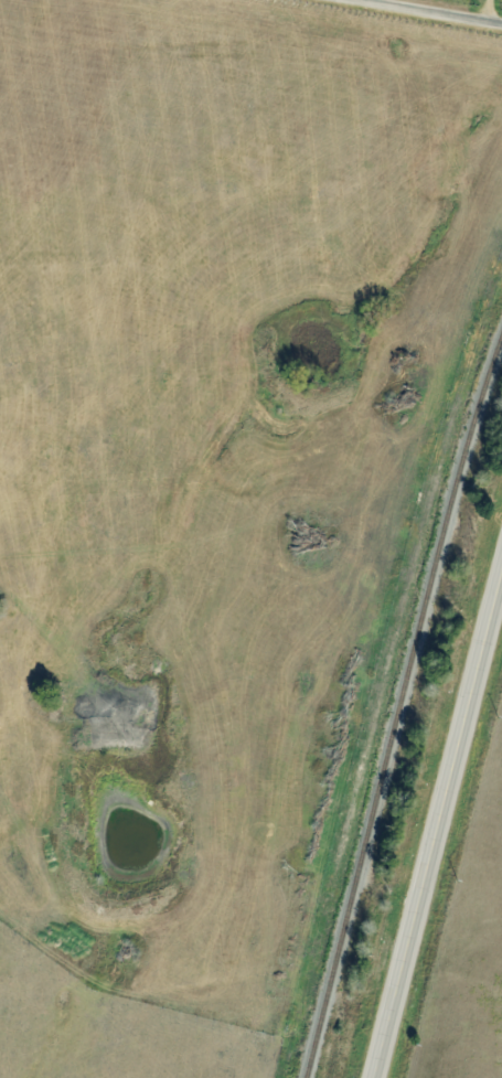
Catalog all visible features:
road: (489, 9)
road: (441, 10)
railway: (398, 706)
road: (440, 844)

